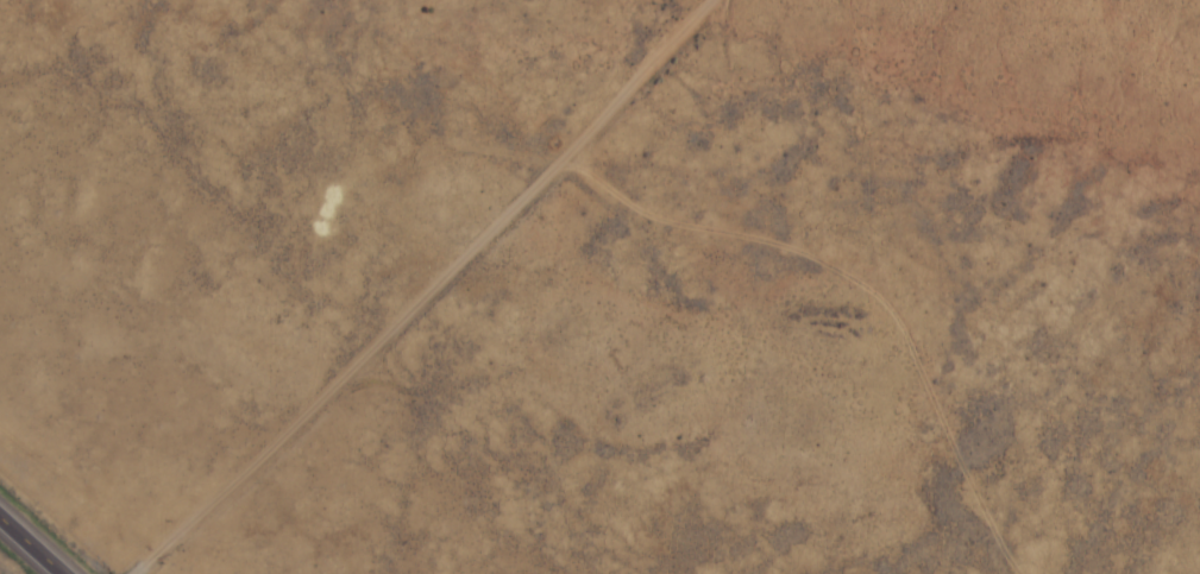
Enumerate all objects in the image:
road: (432, 291)
road: (36, 541)

